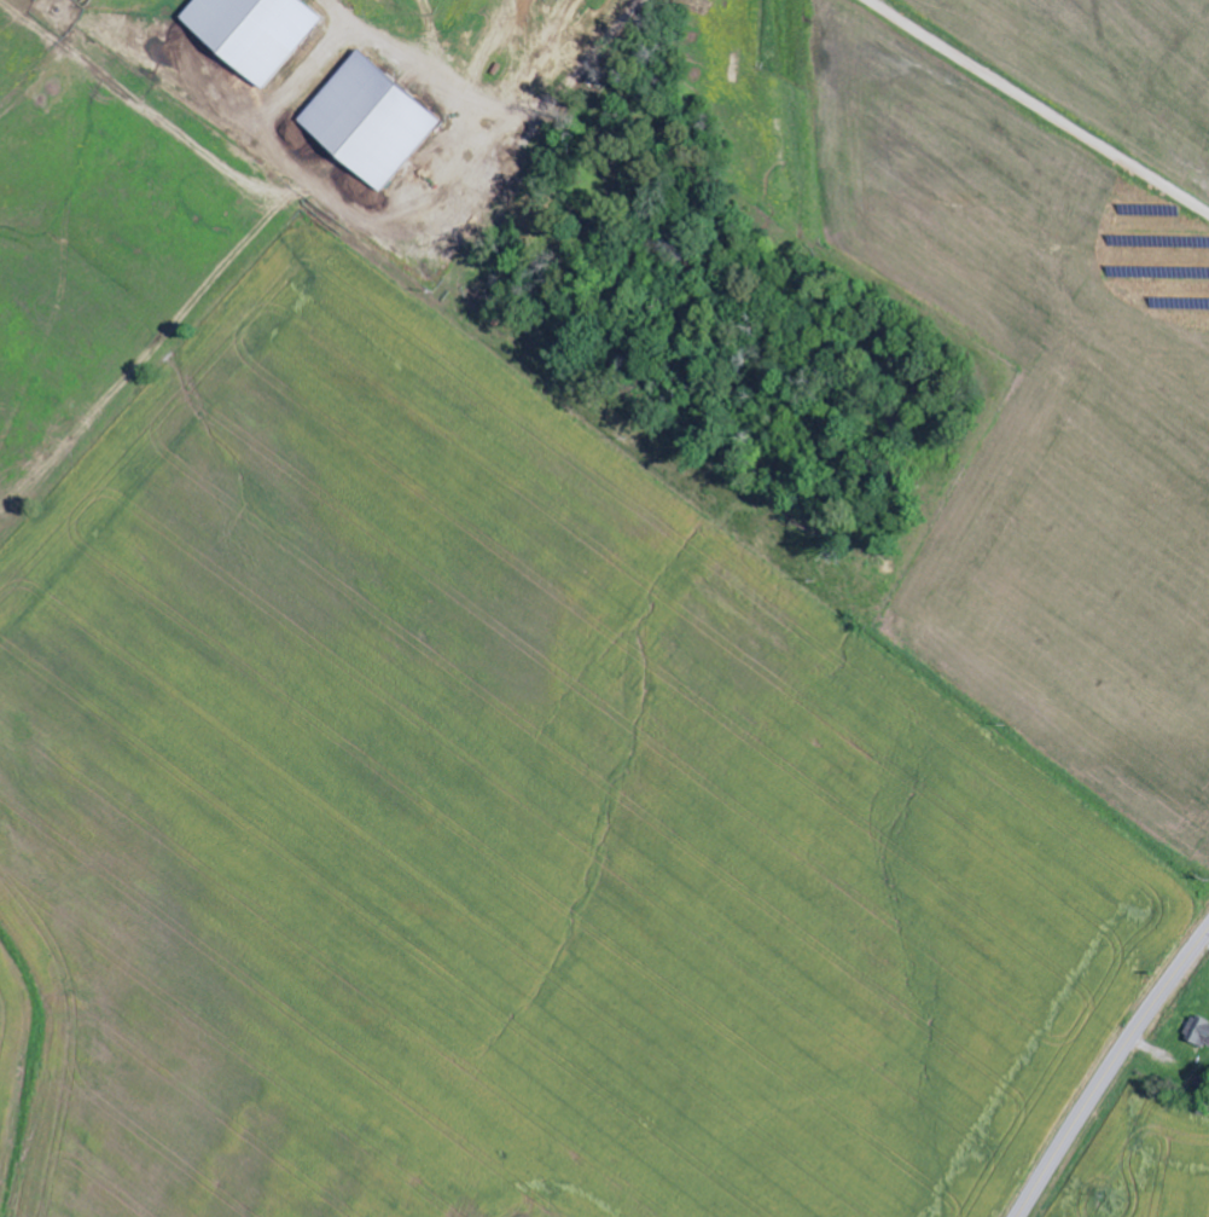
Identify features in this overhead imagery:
building: (254, 33)
building: (370, 123)
building: (1197, 1032)
road: (1109, 1068)

